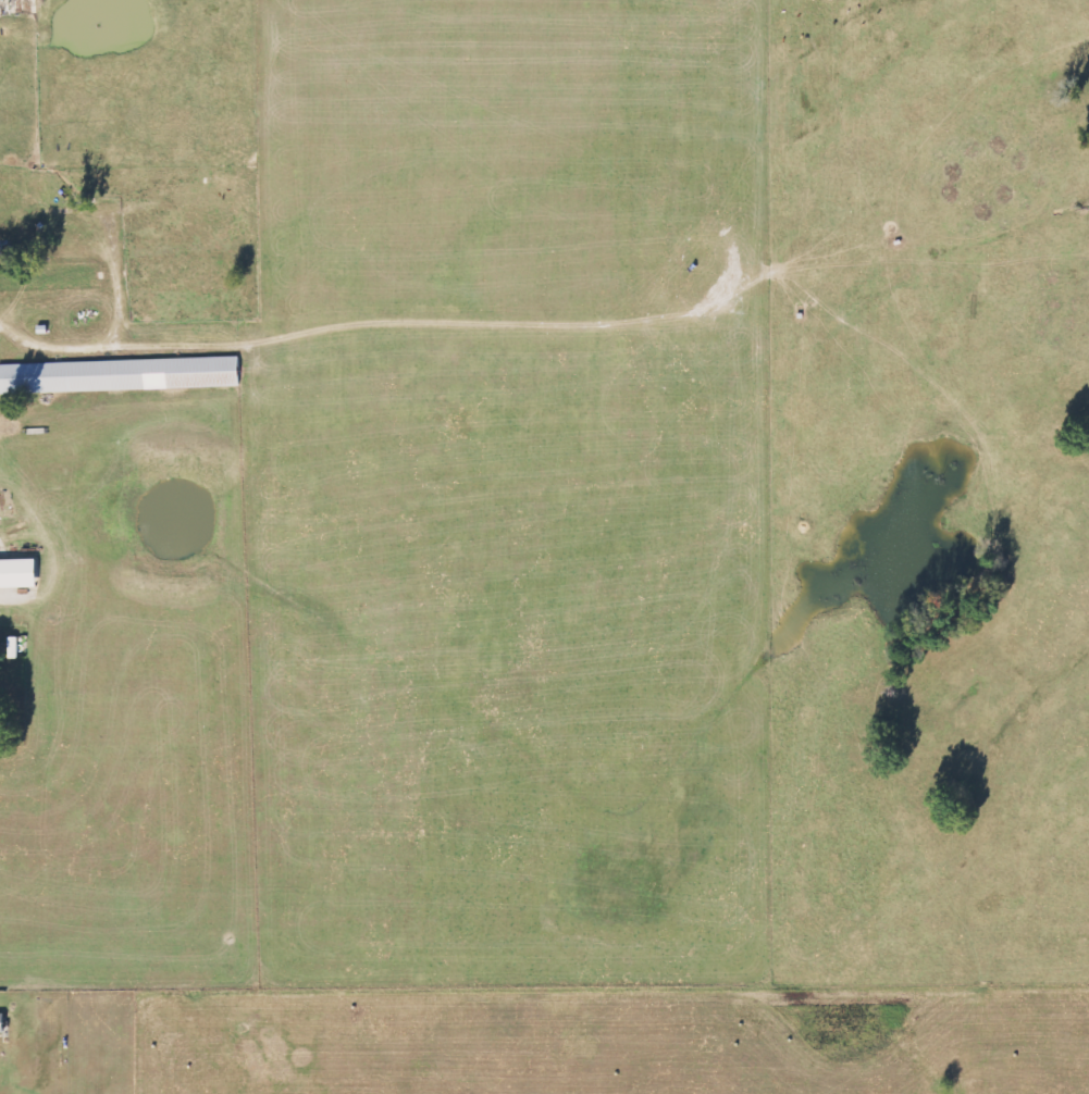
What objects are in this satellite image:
building: (120, 375)
building: (18, 573)
building: (2, 1023)

